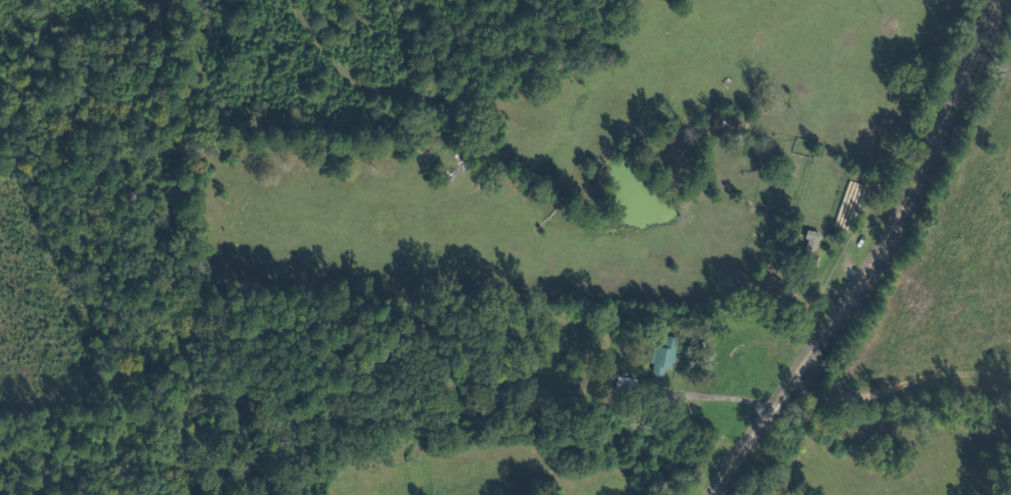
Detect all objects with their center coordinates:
building: (722, 122)
building: (803, 251)
road: (872, 257)
building: (660, 355)
road: (907, 379)
park: (158, 492)

